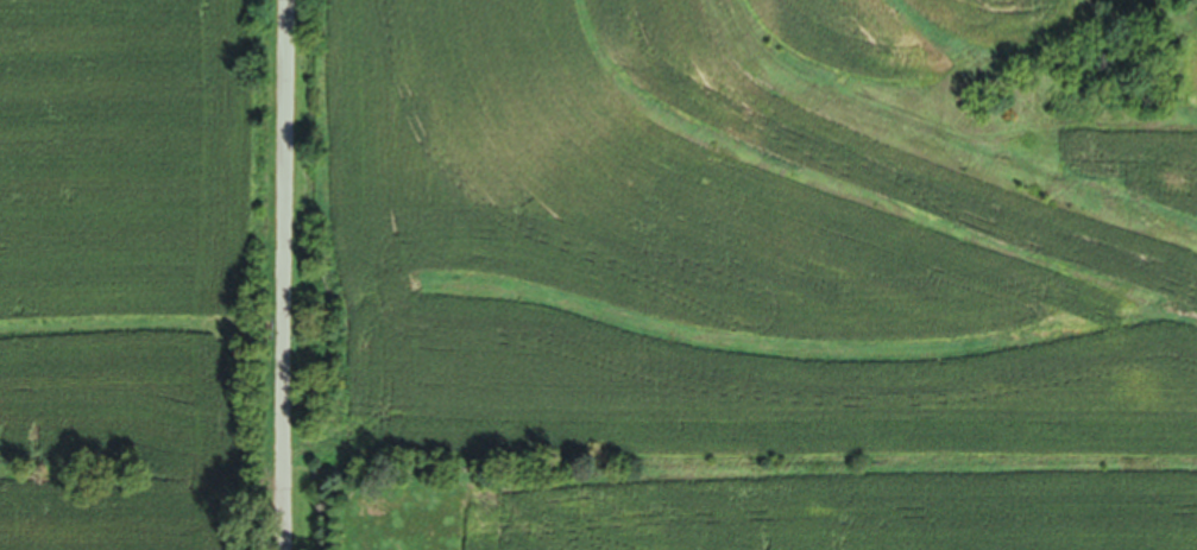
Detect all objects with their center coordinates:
road: (282, 274)

